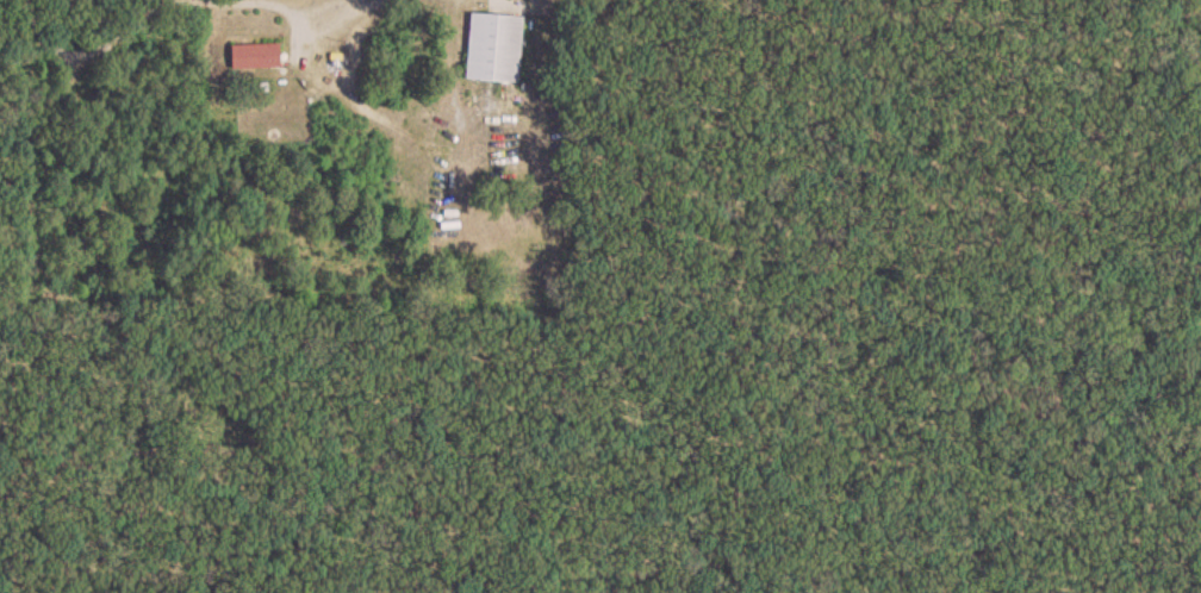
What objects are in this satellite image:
road: (155, 7)
building: (496, 46)
building: (257, 55)

